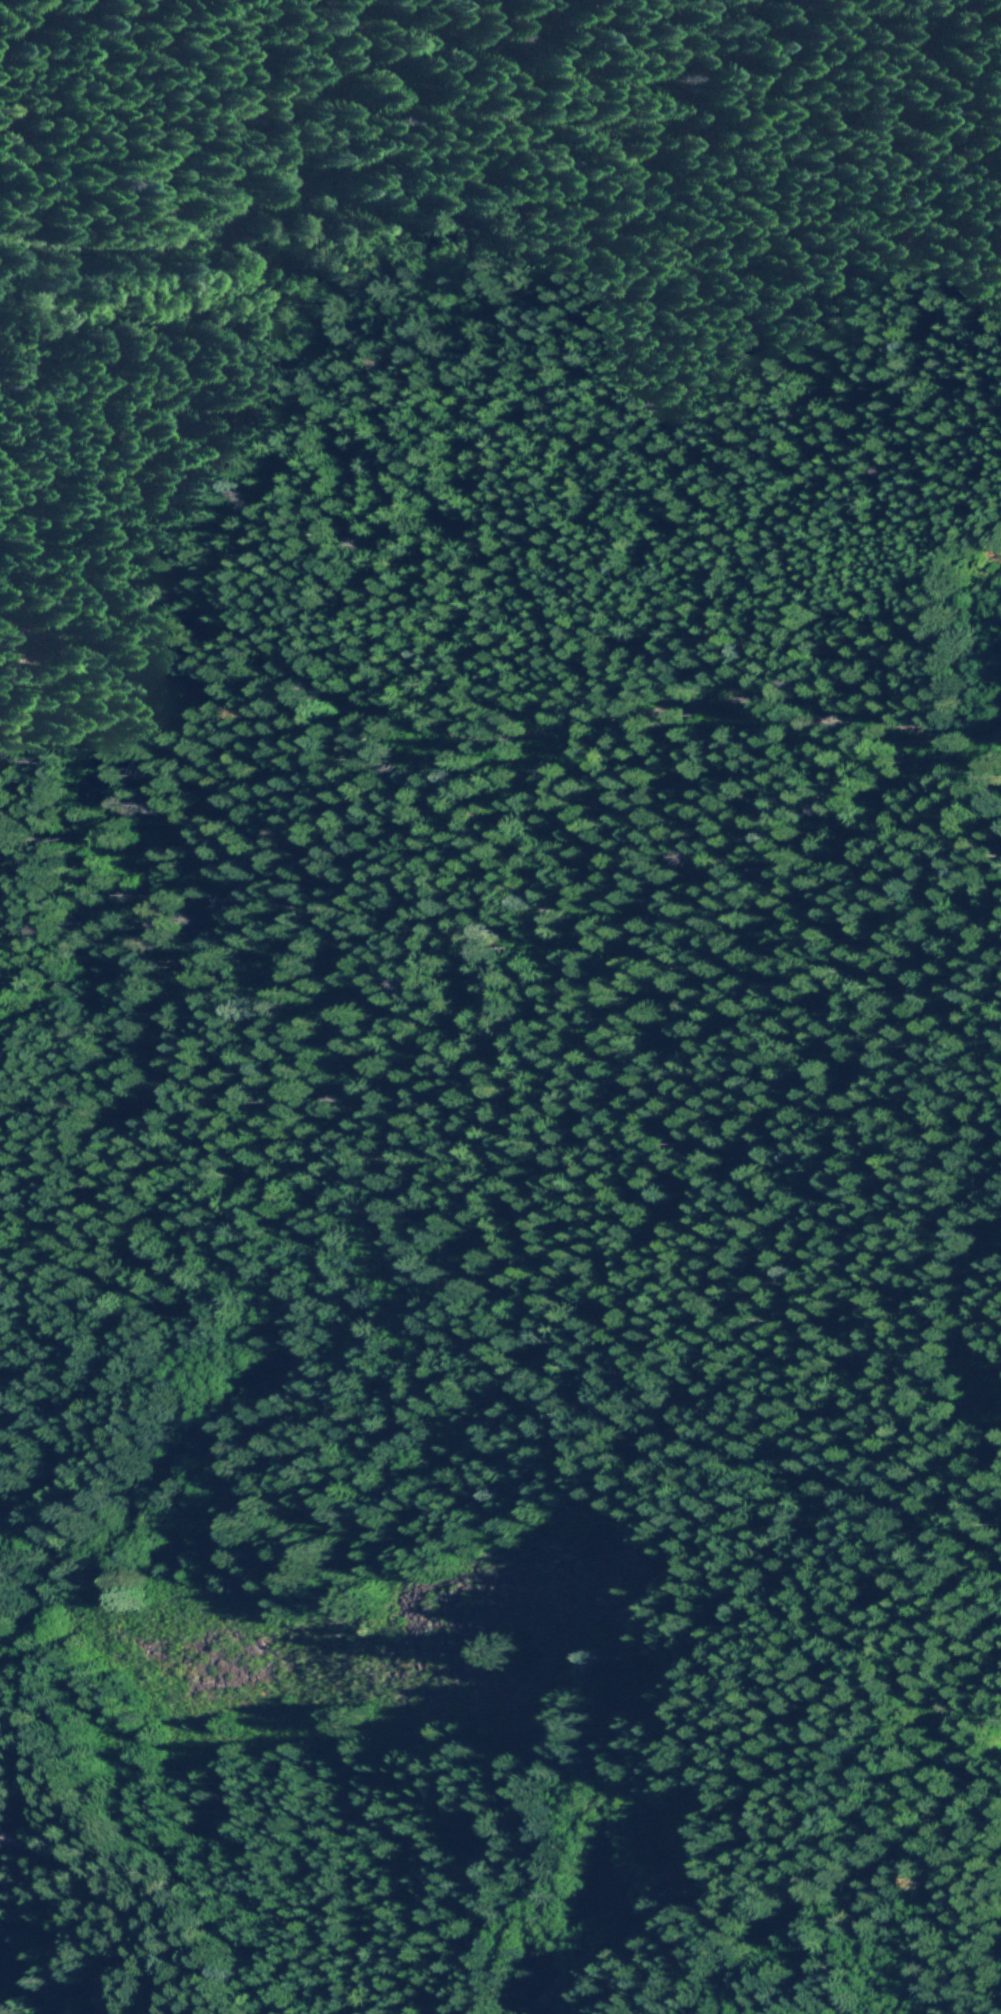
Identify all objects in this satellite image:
road: (500, 705)

